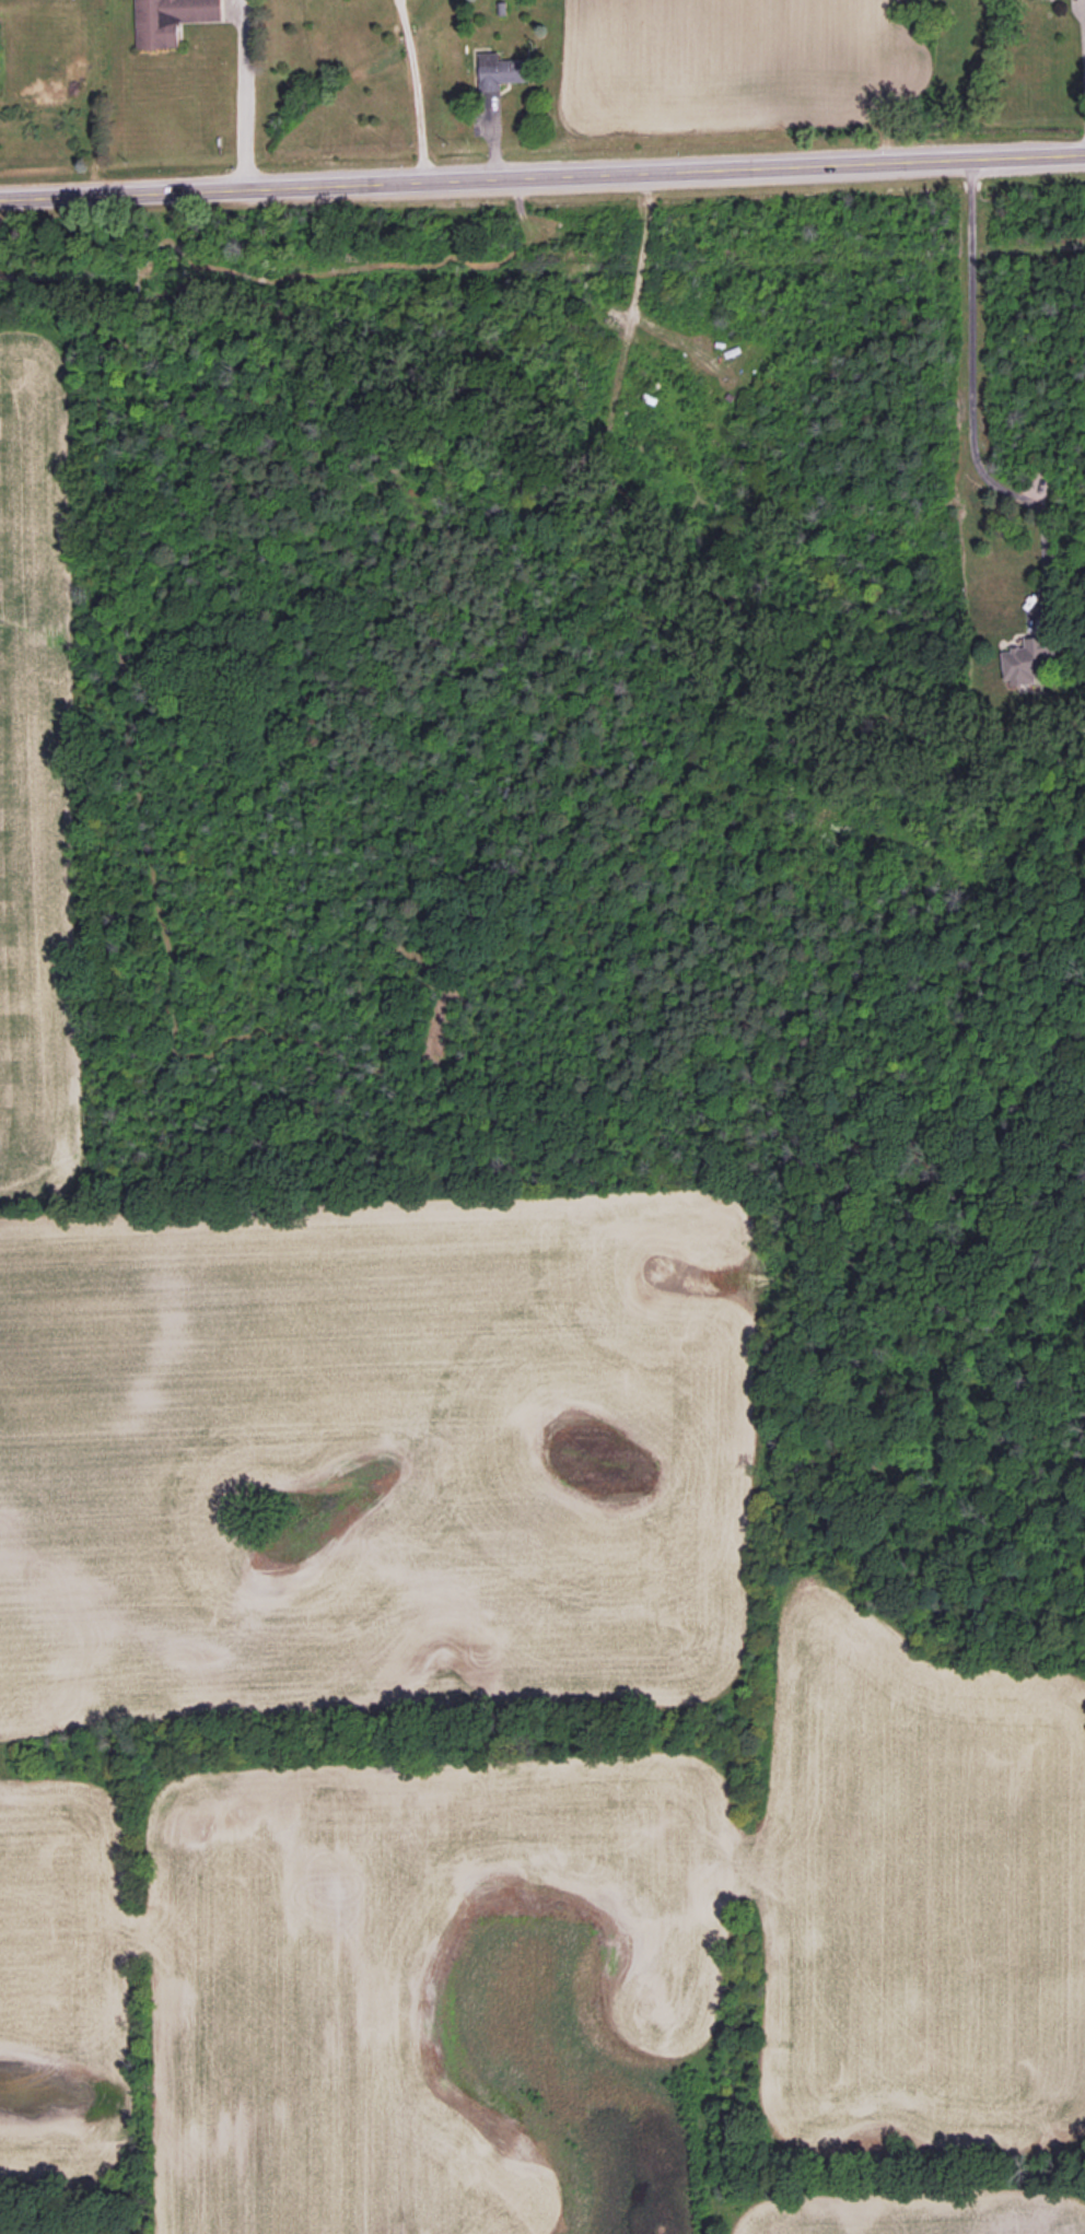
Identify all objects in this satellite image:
building: (171, 20)
road: (1082, 61)
building: (502, 70)
road: (416, 89)
road: (243, 93)
road: (541, 174)
road: (969, 385)
building: (1027, 659)

